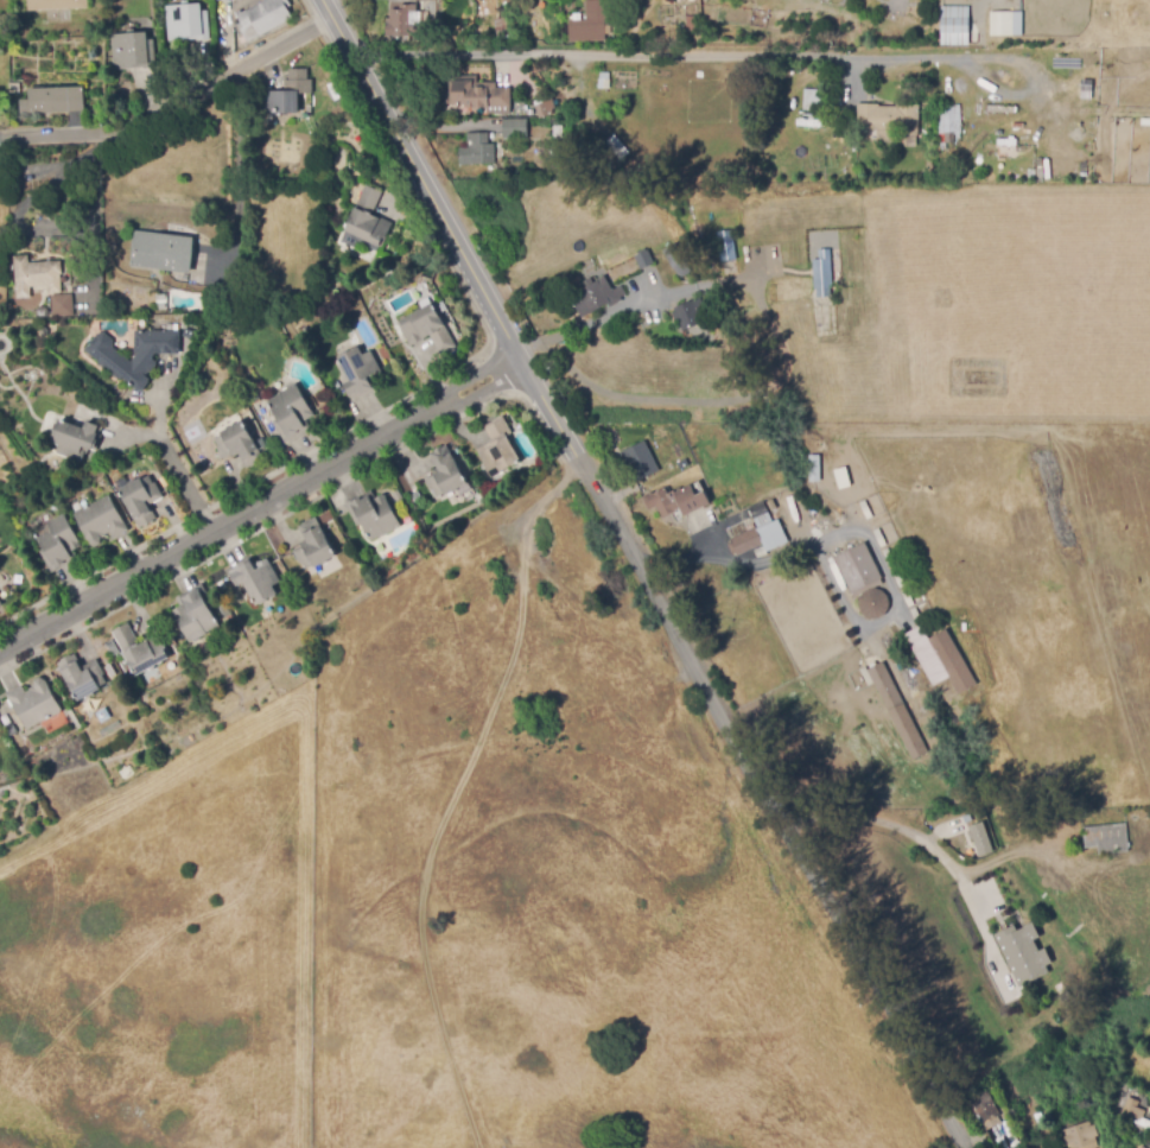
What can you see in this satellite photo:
building: (224, 0)
building: (56, 5)
building: (263, 18)
building: (1017, 21)
building: (186, 23)
building: (590, 23)
building: (405, 24)
building: (954, 24)
building: (1003, 24)
building: (501, 30)
building: (133, 51)
road: (660, 53)
building: (287, 94)
building: (476, 94)
building: (809, 99)
building: (53, 100)
road: (173, 106)
building: (545, 108)
building: (1002, 108)
building: (979, 112)
building: (888, 119)
building: (949, 122)
building: (514, 128)
building: (555, 128)
building: (477, 151)
road: (241, 166)
road: (20, 215)
road: (85, 221)
building: (366, 223)
building: (726, 246)
building: (161, 252)
building: (643, 260)
building: (675, 261)
building: (822, 274)
building: (36, 275)
building: (597, 297)
building: (225, 303)
building: (63, 305)
road: (633, 305)
building: (42, 312)
building: (691, 315)
building: (427, 329)
building: (113, 360)
building: (360, 373)
building: (291, 413)
building: (75, 439)
road: (134, 439)
building: (239, 444)
building: (497, 449)
road: (170, 454)
building: (652, 465)
building: (814, 469)
building: (445, 474)
building: (843, 478)
building: (1057, 497)
building: (141, 500)
building: (675, 501)
road: (259, 506)
building: (771, 506)
building: (864, 509)
building: (374, 515)
building: (760, 515)
building: (100, 520)
building: (750, 526)
building: (760, 538)
building: (879, 538)
building: (57, 544)
building: (313, 546)
building: (761, 552)
road: (690, 553)
building: (888, 558)
building: (858, 567)
road: (641, 575)
building: (898, 577)
building: (256, 579)
building: (221, 586)
building: (907, 597)
building: (0, 603)
building: (872, 603)
building: (195, 613)
building: (916, 616)
building: (112, 648)
building: (140, 649)
building: (866, 658)
building: (943, 660)
building: (82, 677)
building: (33, 703)
building: (897, 710)
building: (6, 721)
building: (12, 730)
building: (1025, 819)
building: (1141, 825)
building: (1149, 825)
building: (980, 836)
building: (1106, 838)
road: (928, 845)
building: (1008, 888)
building: (1016, 943)
building: (1062, 991)
building: (1061, 1020)
building: (981, 1108)
building: (1133, 1115)
building: (1080, 1135)
building: (1142, 1146)

